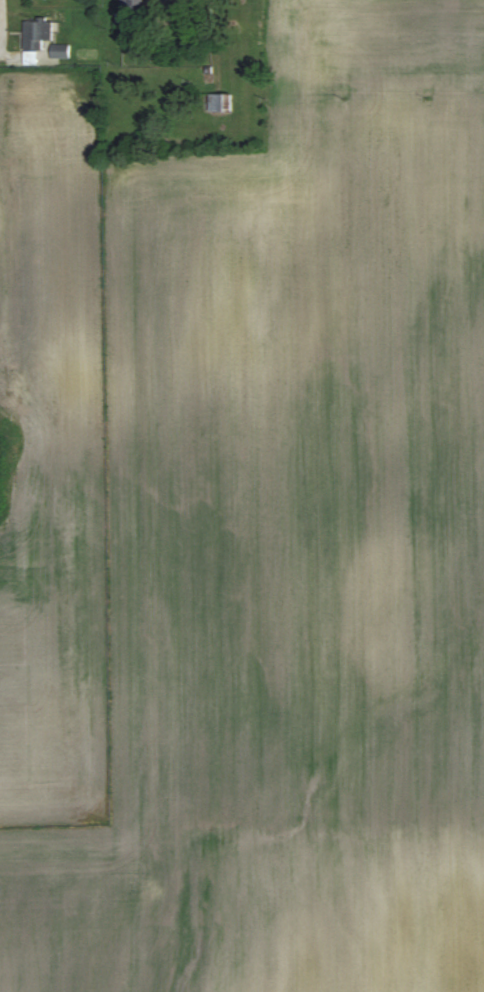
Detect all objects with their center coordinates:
building: (133, 6)
building: (36, 34)
building: (60, 51)
building: (216, 102)

